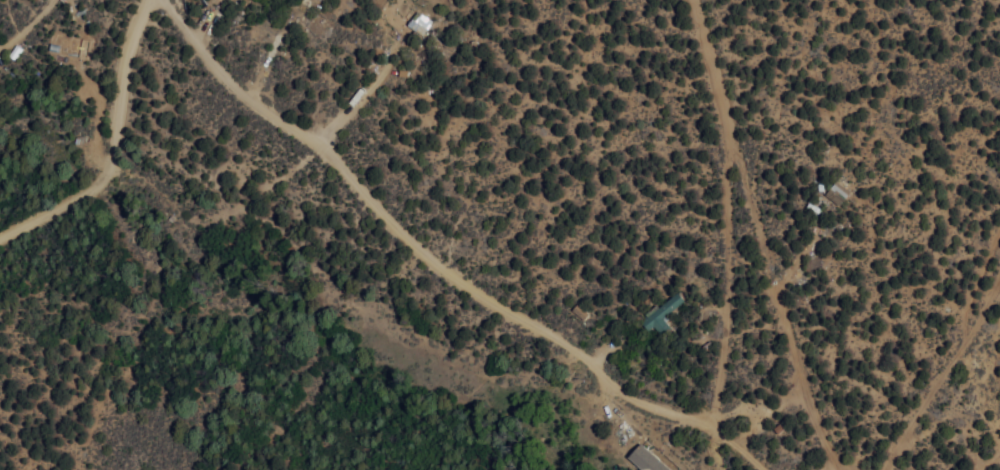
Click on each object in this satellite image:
building: (418, 22)
road: (375, 74)
road: (365, 212)
road: (710, 247)
road: (670, 293)
building: (661, 312)
road: (687, 417)
building: (645, 459)

